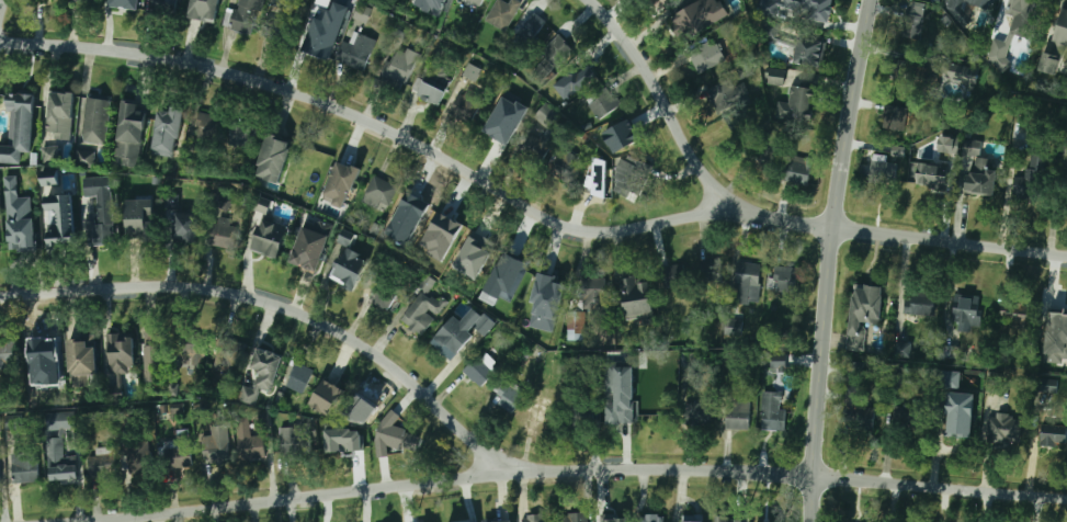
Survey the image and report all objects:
building: (87, 0)
building: (660, 1)
building: (665, 1)
road: (0, 3)
building: (123, 3)
building: (327, 3)
building: (979, 3)
building: (468, 4)
building: (432, 5)
building: (164, 7)
building: (204, 10)
building: (818, 11)
building: (361, 14)
building: (246, 15)
building: (500, 15)
building: (1022, 18)
building: (681, 20)
building: (281, 22)
building: (912, 25)
building: (769, 30)
building: (524, 36)
building: (319, 41)
building: (1058, 41)
building: (357, 50)
building: (810, 53)
building: (704, 56)
building: (547, 60)
building: (394, 72)
building: (965, 75)
building: (578, 76)
building: (897, 76)
building: (775, 77)
building: (930, 80)
building: (429, 90)
building: (718, 94)
building: (600, 100)
road: (666, 102)
building: (466, 105)
building: (798, 105)
building: (60, 114)
building: (547, 115)
building: (895, 117)
building: (94, 121)
building: (20, 127)
building: (205, 127)
building: (501, 127)
building: (130, 129)
building: (168, 132)
building: (242, 135)
building: (622, 135)
building: (946, 144)
building: (1064, 147)
building: (540, 149)
building: (764, 149)
building: (49, 154)
building: (274, 158)
building: (84, 160)
building: (309, 161)
building: (565, 164)
building: (798, 170)
building: (979, 170)
building: (1033, 170)
building: (883, 172)
building: (343, 177)
building: (932, 177)
building: (595, 178)
building: (628, 178)
building: (378, 193)
building: (99, 197)
building: (224, 201)
road: (523, 204)
building: (263, 205)
building: (410, 208)
building: (58, 213)
building: (141, 219)
building: (186, 227)
building: (444, 227)
building: (225, 236)
building: (272, 238)
building: (22, 239)
building: (311, 247)
building: (0, 249)
building: (473, 253)
road: (826, 259)
building: (350, 266)
building: (511, 266)
building: (708, 272)
building: (672, 277)
building: (784, 280)
building: (747, 283)
building: (633, 286)
building: (592, 291)
building: (543, 292)
building: (385, 295)
building: (920, 304)
road: (283, 307)
building: (967, 311)
building: (1018, 313)
building: (419, 315)
building: (864, 315)
building: (575, 326)
building: (480, 328)
building: (1056, 338)
building: (449, 341)
building: (191, 345)
building: (901, 350)
building: (121, 353)
building: (8, 355)
building: (230, 355)
building: (152, 356)
building: (45, 358)
building: (82, 360)
building: (777, 361)
building: (264, 364)
building: (480, 368)
building: (298, 378)
building: (951, 379)
building: (994, 382)
building: (36, 386)
building: (1047, 386)
building: (116, 389)
building: (507, 395)
building: (328, 397)
building: (856, 410)
building: (541, 411)
building: (772, 411)
building: (618, 412)
building: (655, 413)
building: (695, 415)
building: (962, 415)
building: (737, 416)
building: (579, 418)
building: (907, 419)
building: (65, 421)
building: (0, 428)
building: (1003, 429)
building: (1053, 436)
building: (395, 438)
building: (338, 440)
building: (293, 441)
building: (248, 442)
building: (218, 444)
building: (178, 452)
building: (138, 457)
building: (59, 462)
building: (101, 465)
building: (24, 468)
road: (576, 470)
building: (0, 480)
building: (574, 518)
building: (613, 518)
building: (651, 518)
building: (536, 519)
building: (499, 520)
building: (727, 520)
building: (765, 520)
building: (509, 521)
building: (692, 521)

